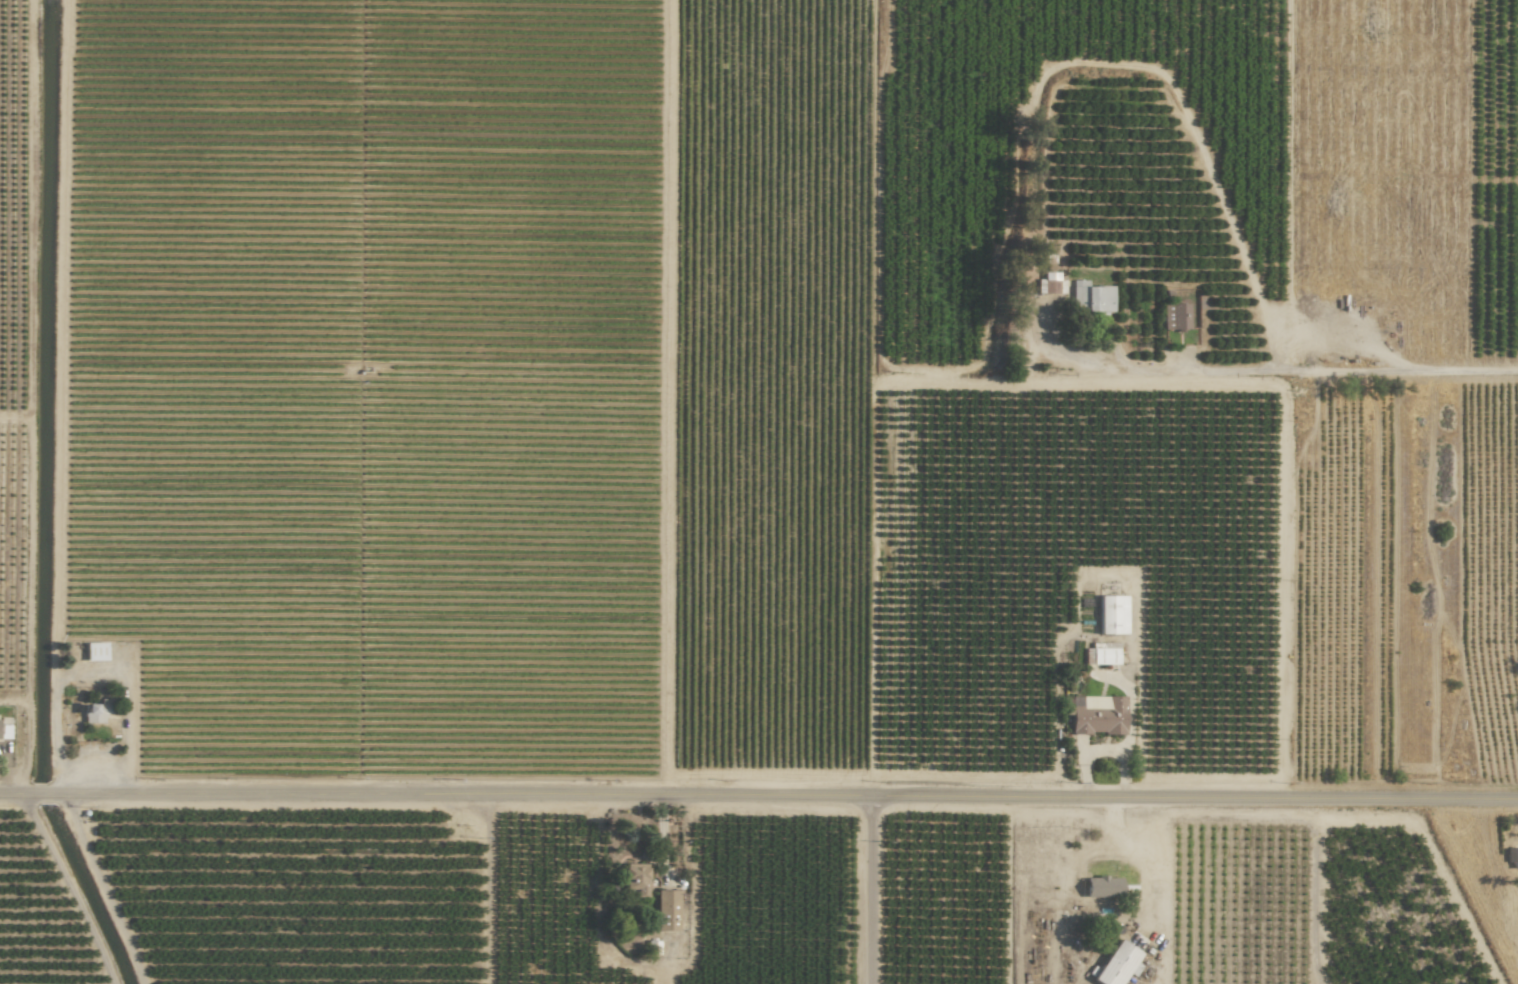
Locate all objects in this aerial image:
building: (1089, 298)
building: (1175, 316)
road: (1297, 370)
building: (1111, 615)
building: (95, 652)
building: (1101, 653)
building: (97, 711)
building: (1098, 716)
road: (758, 804)
building: (1513, 858)
building: (633, 879)
building: (1101, 887)
road: (1149, 890)
road: (875, 894)
building: (666, 910)
building: (1115, 964)

